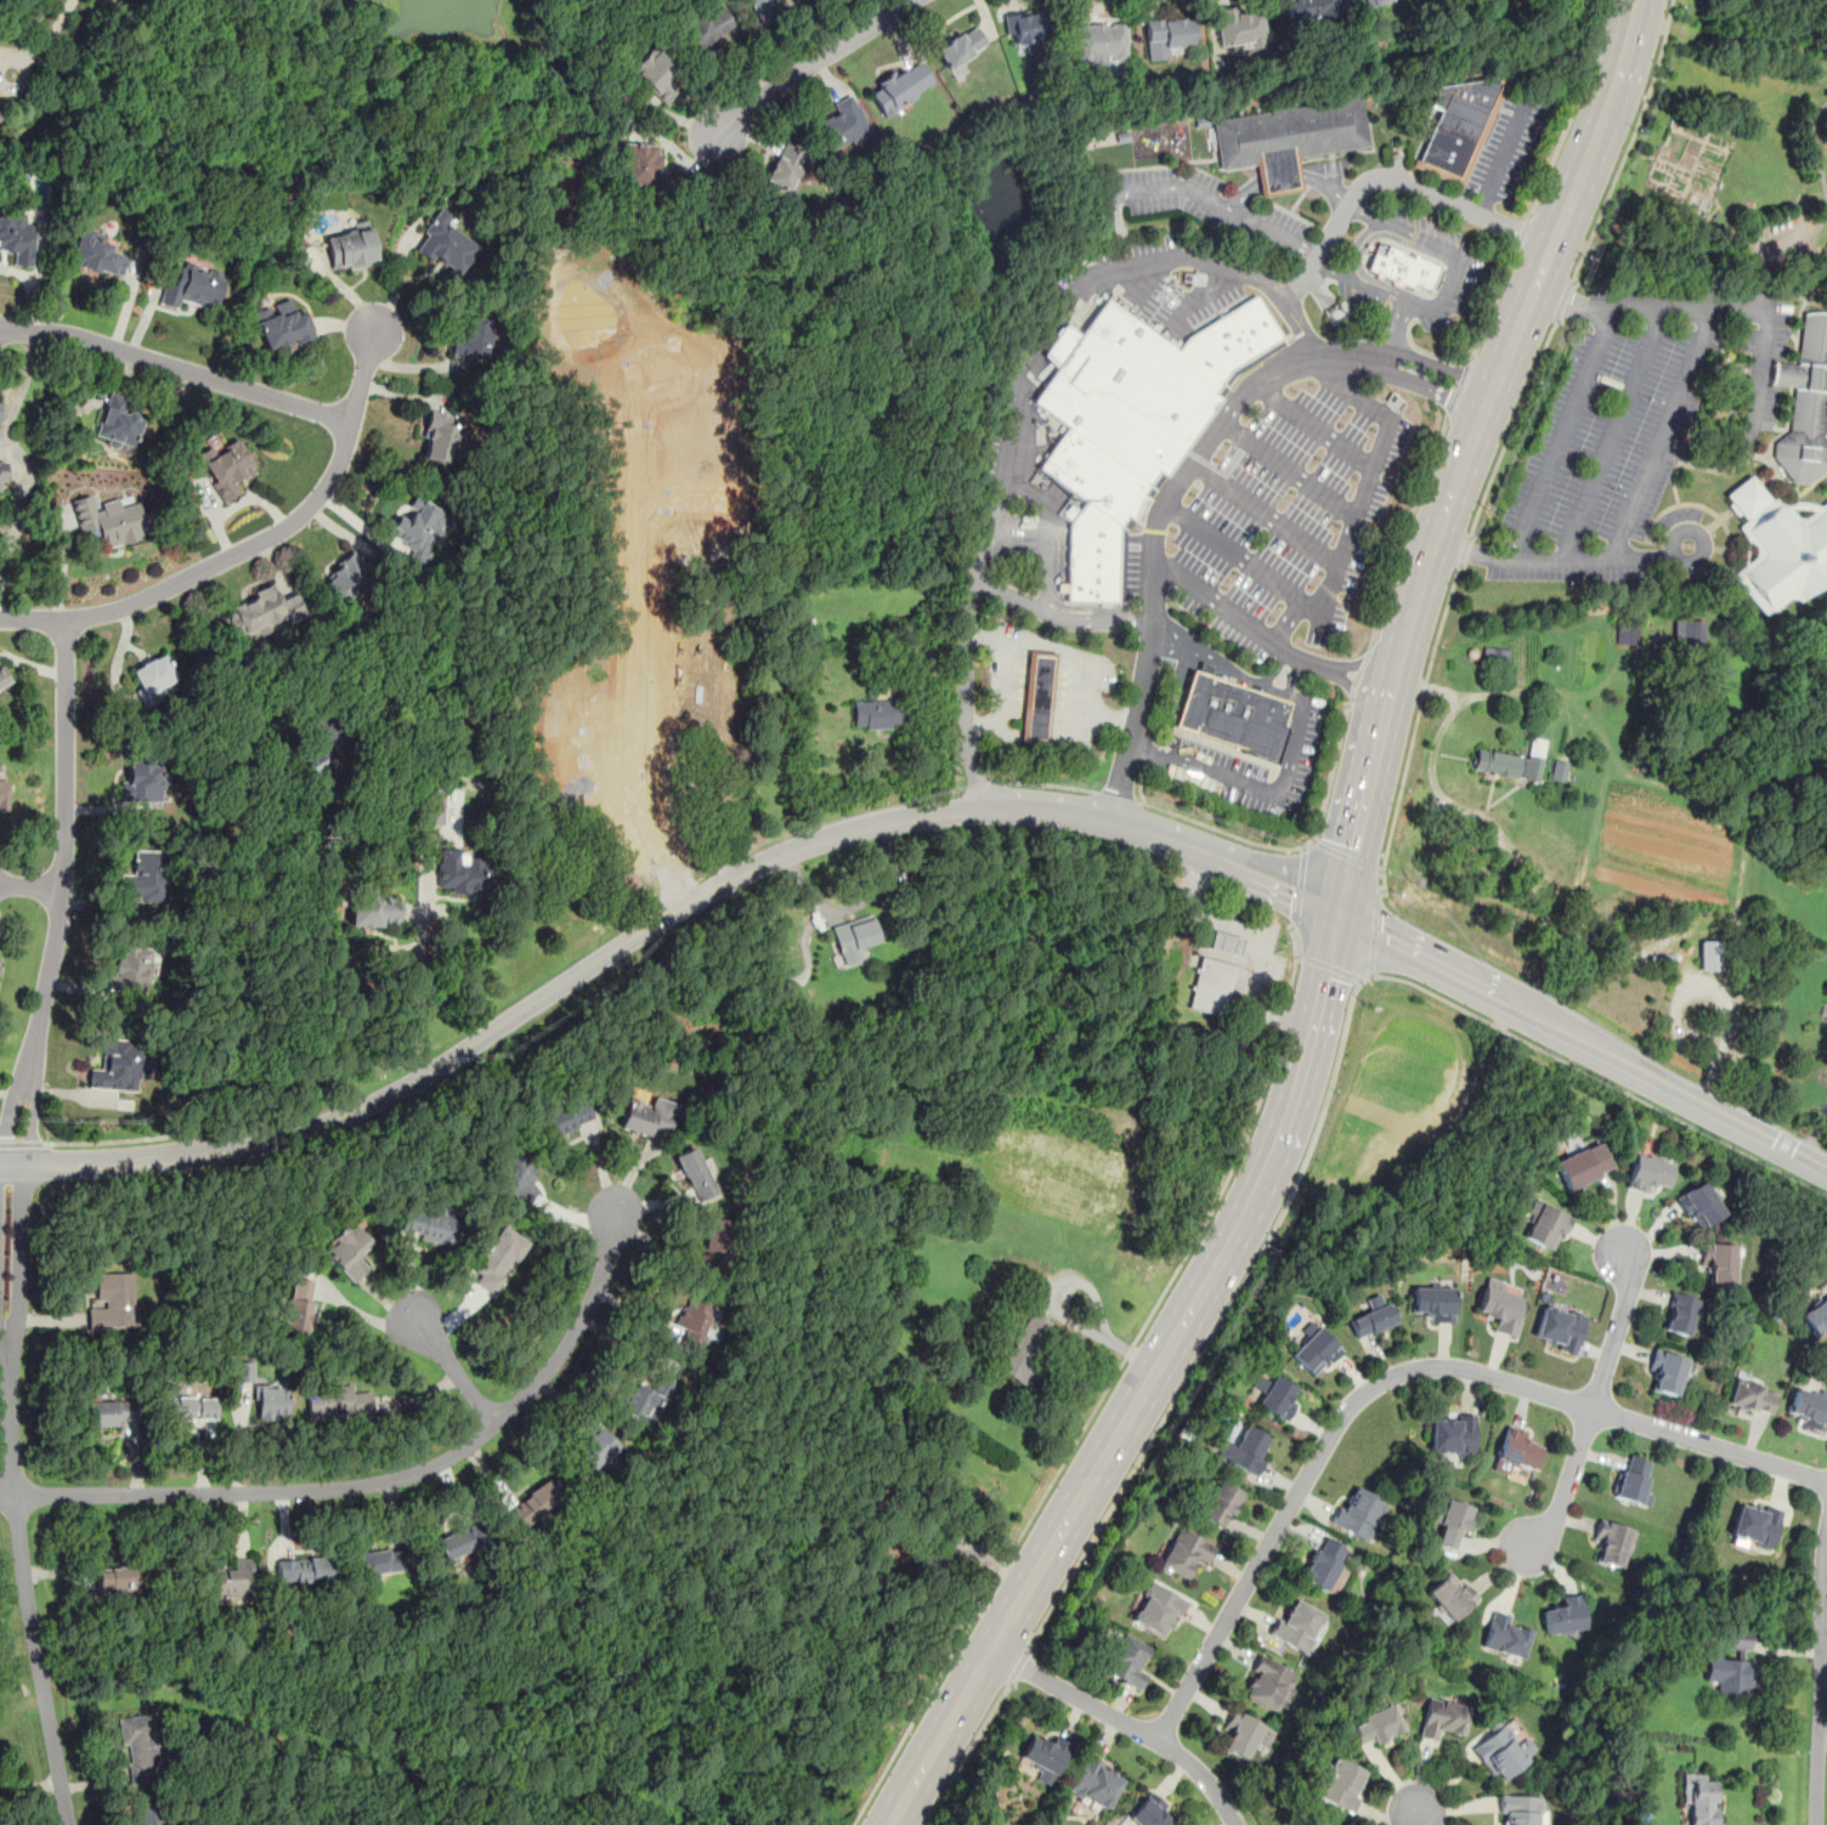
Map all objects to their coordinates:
building: (1369, 0)
building: (762, 8)
building: (1313, 10)
building: (705, 25)
building: (1022, 28)
building: (1238, 28)
building: (1167, 34)
road: (50, 38)
building: (1099, 45)
building: (961, 46)
road: (805, 67)
building: (658, 72)
building: (900, 86)
road: (1573, 109)
building: (0, 117)
building: (1458, 120)
building: (843, 123)
building: (1293, 132)
road: (1629, 143)
road: (1503, 154)
building: (639, 163)
building: (785, 165)
road: (1286, 174)
building: (1280, 176)
road: (1396, 176)
road: (1176, 188)
road: (1121, 228)
road: (1523, 231)
road: (1273, 232)
building: (16, 238)
building: (446, 245)
building: (351, 248)
road: (1362, 250)
building: (96, 254)
building: (1402, 267)
building: (193, 287)
road: (1448, 288)
road: (1197, 296)
road: (1495, 301)
road: (1566, 301)
road: (1569, 301)
road: (1525, 311)
building: (285, 325)
road: (1392, 331)
building: (473, 335)
building: (1231, 339)
road: (1764, 339)
road: (1318, 353)
road: (1439, 364)
road: (177, 368)
road: (1460, 386)
road: (1430, 389)
building: (1125, 393)
building: (1805, 402)
road: (1016, 404)
building: (1, 413)
building: (119, 423)
road: (1314, 426)
road: (1511, 426)
road: (1611, 433)
road: (1557, 435)
building: (440, 438)
road: (1659, 446)
building: (226, 466)
road: (1289, 470)
building: (2, 476)
road: (1368, 478)
building: (1153, 484)
road: (688, 500)
road: (1267, 512)
building: (1093, 518)
building: (108, 521)
building: (419, 528)
road: (1403, 528)
road: (1046, 531)
road: (5, 535)
road: (10, 538)
road: (254, 544)
building: (1778, 546)
road: (1466, 550)
road: (1461, 551)
road: (1152, 552)
road: (1252, 568)
building: (346, 577)
road: (1209, 597)
building: (265, 612)
building: (1689, 630)
building: (1627, 635)
road: (641, 637)
road: (1280, 647)
road: (1378, 652)
building: (1494, 657)
road: (1210, 661)
road: (1313, 664)
road: (1284, 671)
road: (1356, 674)
building: (4, 676)
building: (153, 679)
road: (1392, 684)
road: (960, 692)
building: (1037, 697)
road: (1363, 705)
building: (876, 713)
building: (1234, 714)
road: (1416, 718)
building: (332, 732)
building: (600, 749)
building: (316, 759)
building: (1510, 763)
building: (1559, 771)
building: (142, 778)
road: (1328, 778)
building: (2, 790)
road: (1265, 793)
building: (434, 809)
road: (1483, 821)
road: (1220, 829)
road: (1358, 829)
road: (1346, 854)
road: (750, 871)
building: (459, 873)
building: (147, 875)
road: (1381, 880)
road: (30, 885)
road: (1296, 886)
road: (222, 892)
road: (61, 895)
building: (373, 909)
traffic signals: (1337, 912)
road: (1374, 933)
building: (854, 937)
road: (1257, 940)
road: (1295, 941)
building: (1224, 942)
building: (381, 948)
building: (1712, 957)
building: (130, 968)
road: (1329, 968)
road: (419, 979)
road: (1290, 979)
building: (1212, 987)
gas station: (1212, 987)
road: (1280, 1021)
road: (1582, 1037)
road: (1529, 1044)
building: (119, 1065)
building: (647, 1116)
building: (565, 1117)
road: (117, 1140)
road: (23, 1144)
road: (1755, 1161)
road: (103, 1162)
building: (1582, 1166)
building: (1647, 1173)
building: (695, 1174)
building: (519, 1175)
building: (1699, 1203)
building: (1545, 1224)
building: (430, 1225)
building: (714, 1242)
building: (350, 1252)
building: (498, 1259)
building: (1719, 1260)
building: (1433, 1300)
building: (114, 1303)
building: (299, 1304)
building: (1500, 1305)
building: (1680, 1311)
road: (1062, 1313)
building: (1373, 1316)
building: (1816, 1317)
road: (1222, 1321)
building: (694, 1322)
building: (1560, 1327)
road: (1614, 1331)
building: (1026, 1349)
building: (1316, 1349)
road: (452, 1366)
building: (243, 1371)
building: (1667, 1371)
road: (1399, 1373)
road: (1147, 1382)
building: (1274, 1395)
building: (649, 1396)
building: (1749, 1396)
building: (271, 1401)
building: (338, 1401)
building: (191, 1407)
building: (1810, 1407)
building: (388, 1410)
building: (111, 1412)
building: (1452, 1435)
road: (1076, 1439)
building: (1245, 1450)
building: (1515, 1450)
building: (595, 1451)
road: (390, 1479)
road: (1567, 1479)
building: (1633, 1483)
road: (7, 1497)
road: (15, 1497)
building: (1222, 1503)
building: (532, 1504)
building: (1358, 1513)
building: (1450, 1523)
building: (1755, 1523)
building: (462, 1540)
building: (1611, 1541)
building: (1184, 1551)
building: (384, 1560)
building: (1322, 1563)
building: (305, 1569)
building: (115, 1579)
building: (231, 1579)
building: (1450, 1596)
building: (1158, 1608)
building: (1563, 1615)
building: (1296, 1625)
building: (1504, 1636)
building: (1126, 1662)
building: (1732, 1664)
road: (1020, 1666)
road: (1820, 1677)
building: (1269, 1683)
building: (1441, 1718)
road: (1126, 1722)
building: (1376, 1725)
building: (1243, 1733)
building: (138, 1745)
building: (1501, 1751)
road: (967, 1753)
building: (1045, 1757)
building: (1094, 1783)
building: (1340, 1784)
building: (1699, 1797)
building: (1520, 1808)
building: (1150, 1812)
building: (146, 1813)
road: (1412, 1818)
building: (1313, 1823)

